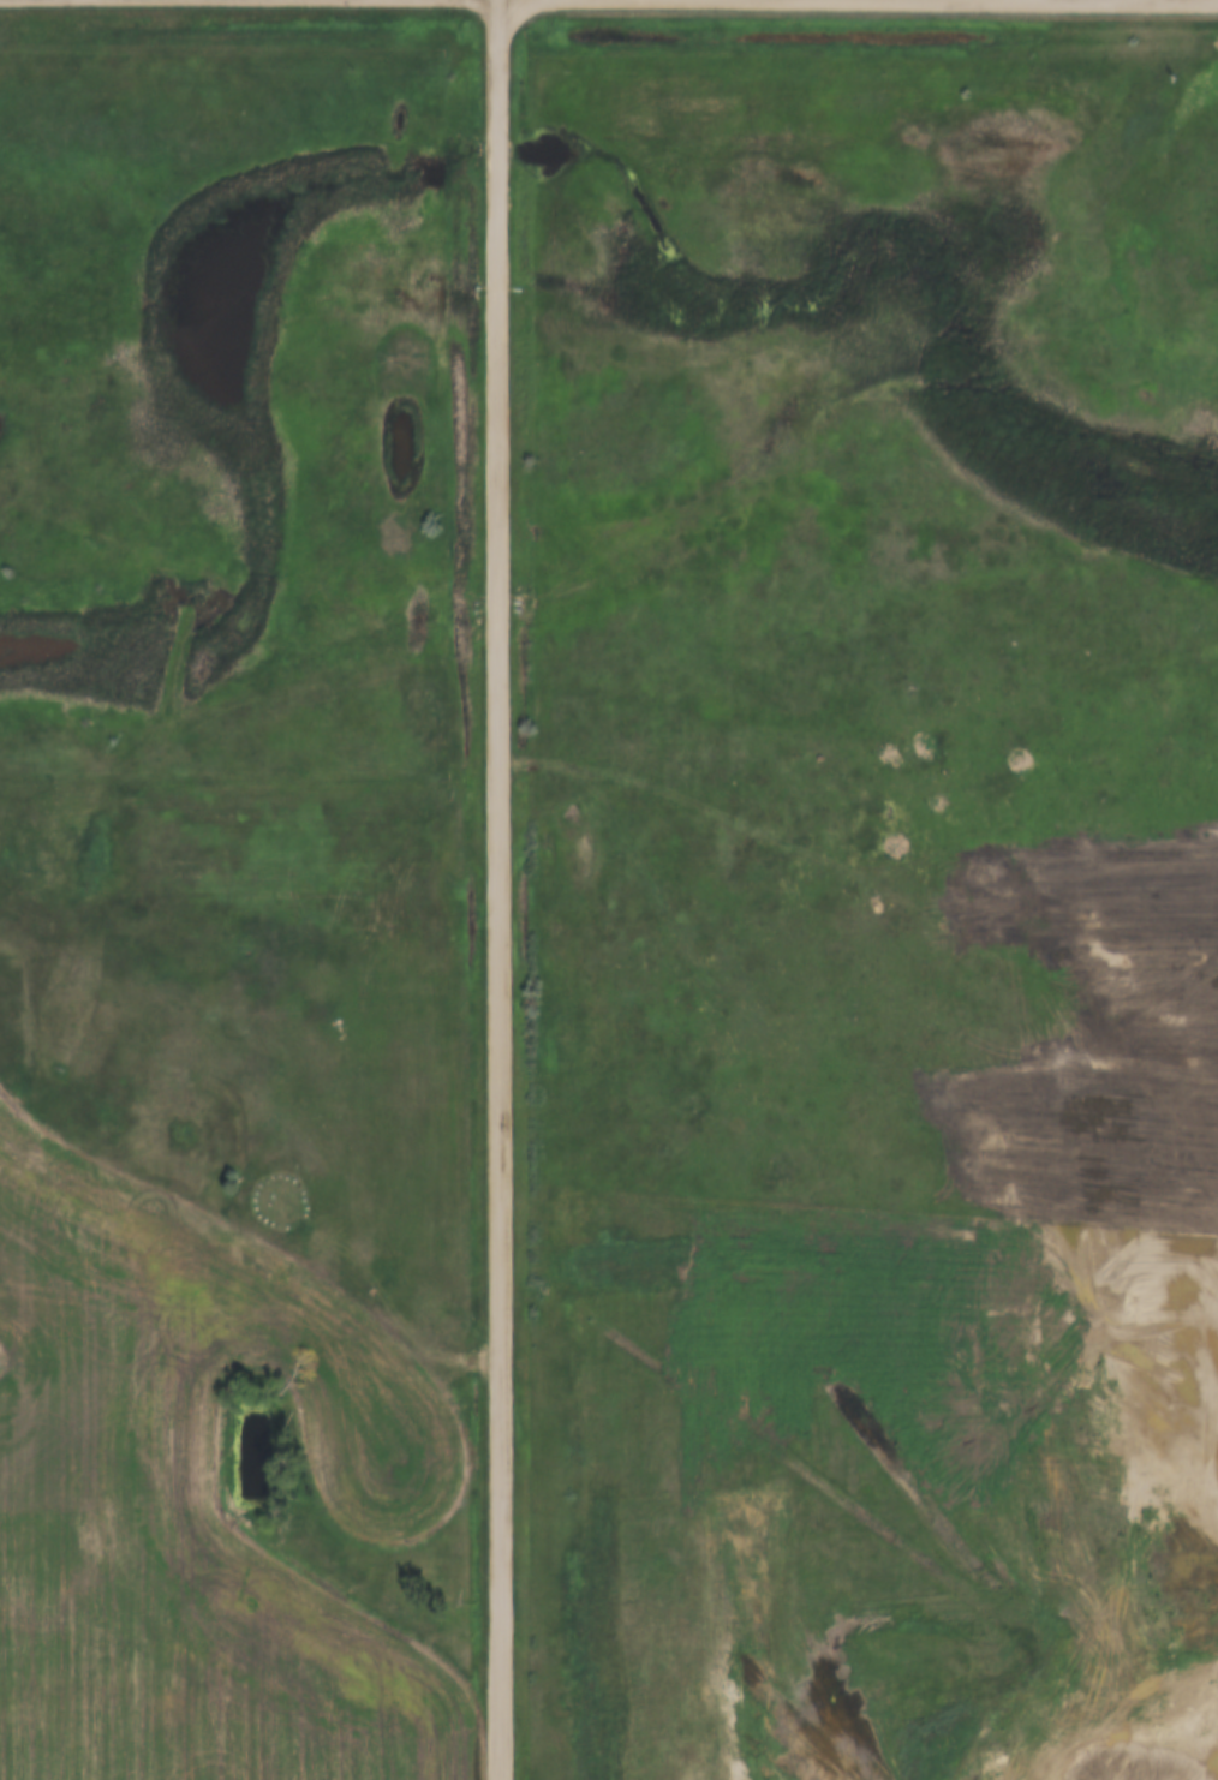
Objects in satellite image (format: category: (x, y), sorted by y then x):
road: (496, 890)
quarry: (1120, 1766)

